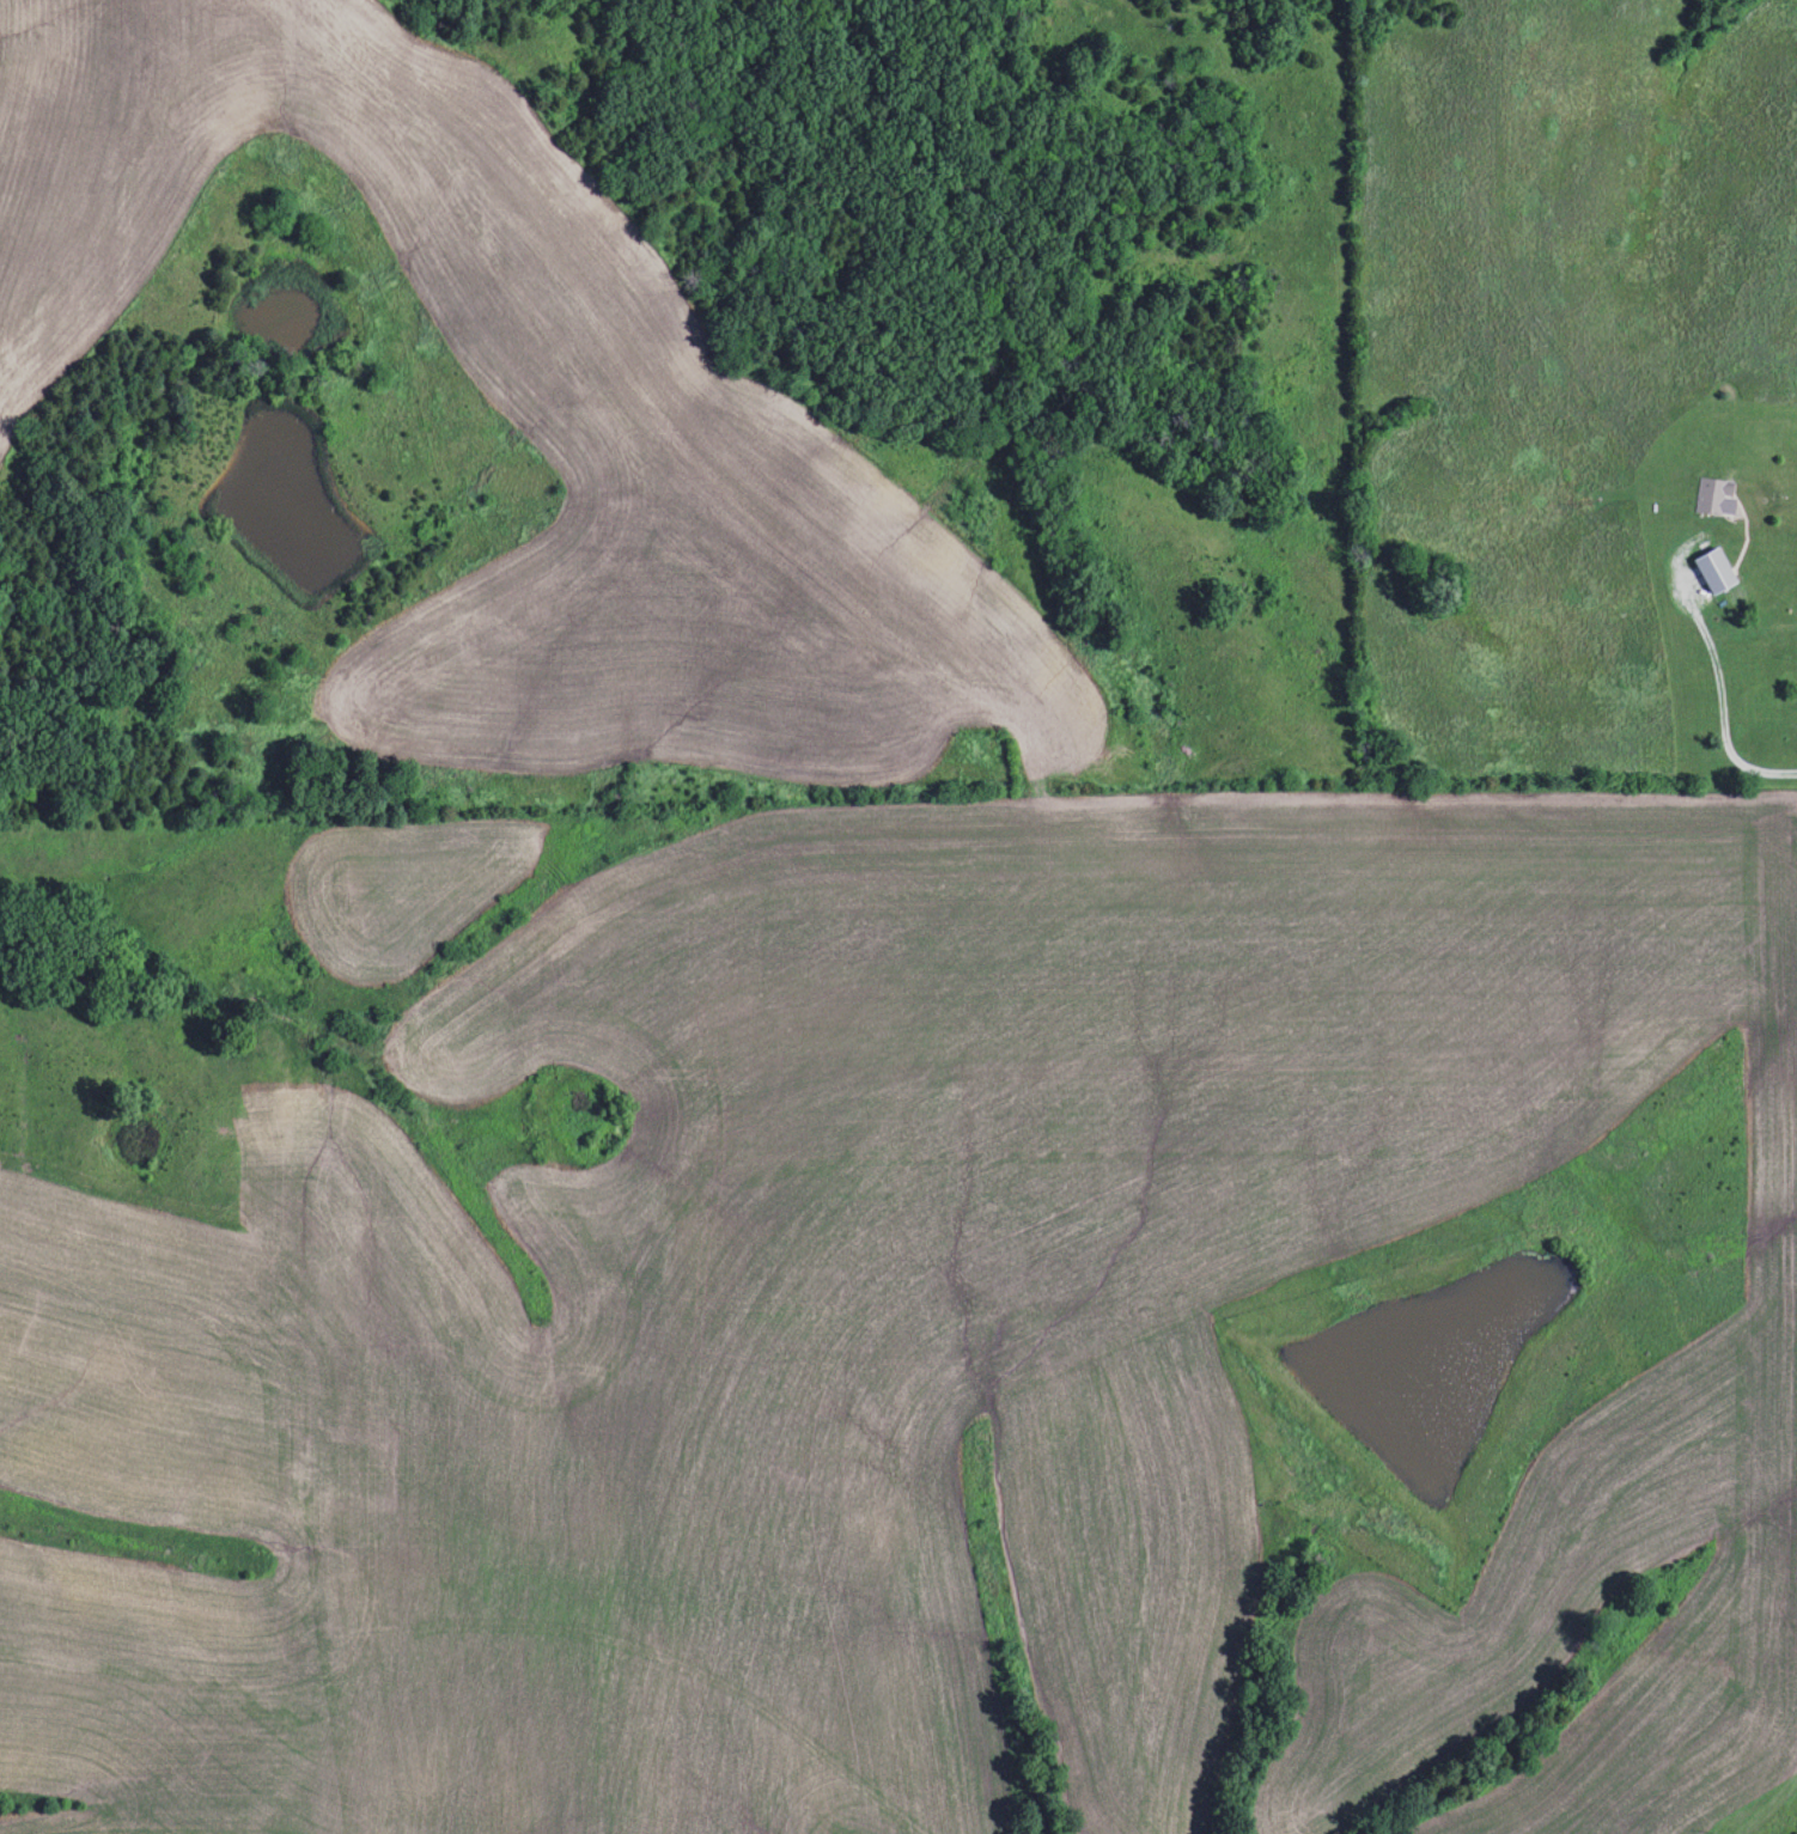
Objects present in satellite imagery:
building: (1711, 496)
building: (1714, 572)
road: (1753, 577)
road: (1722, 714)

